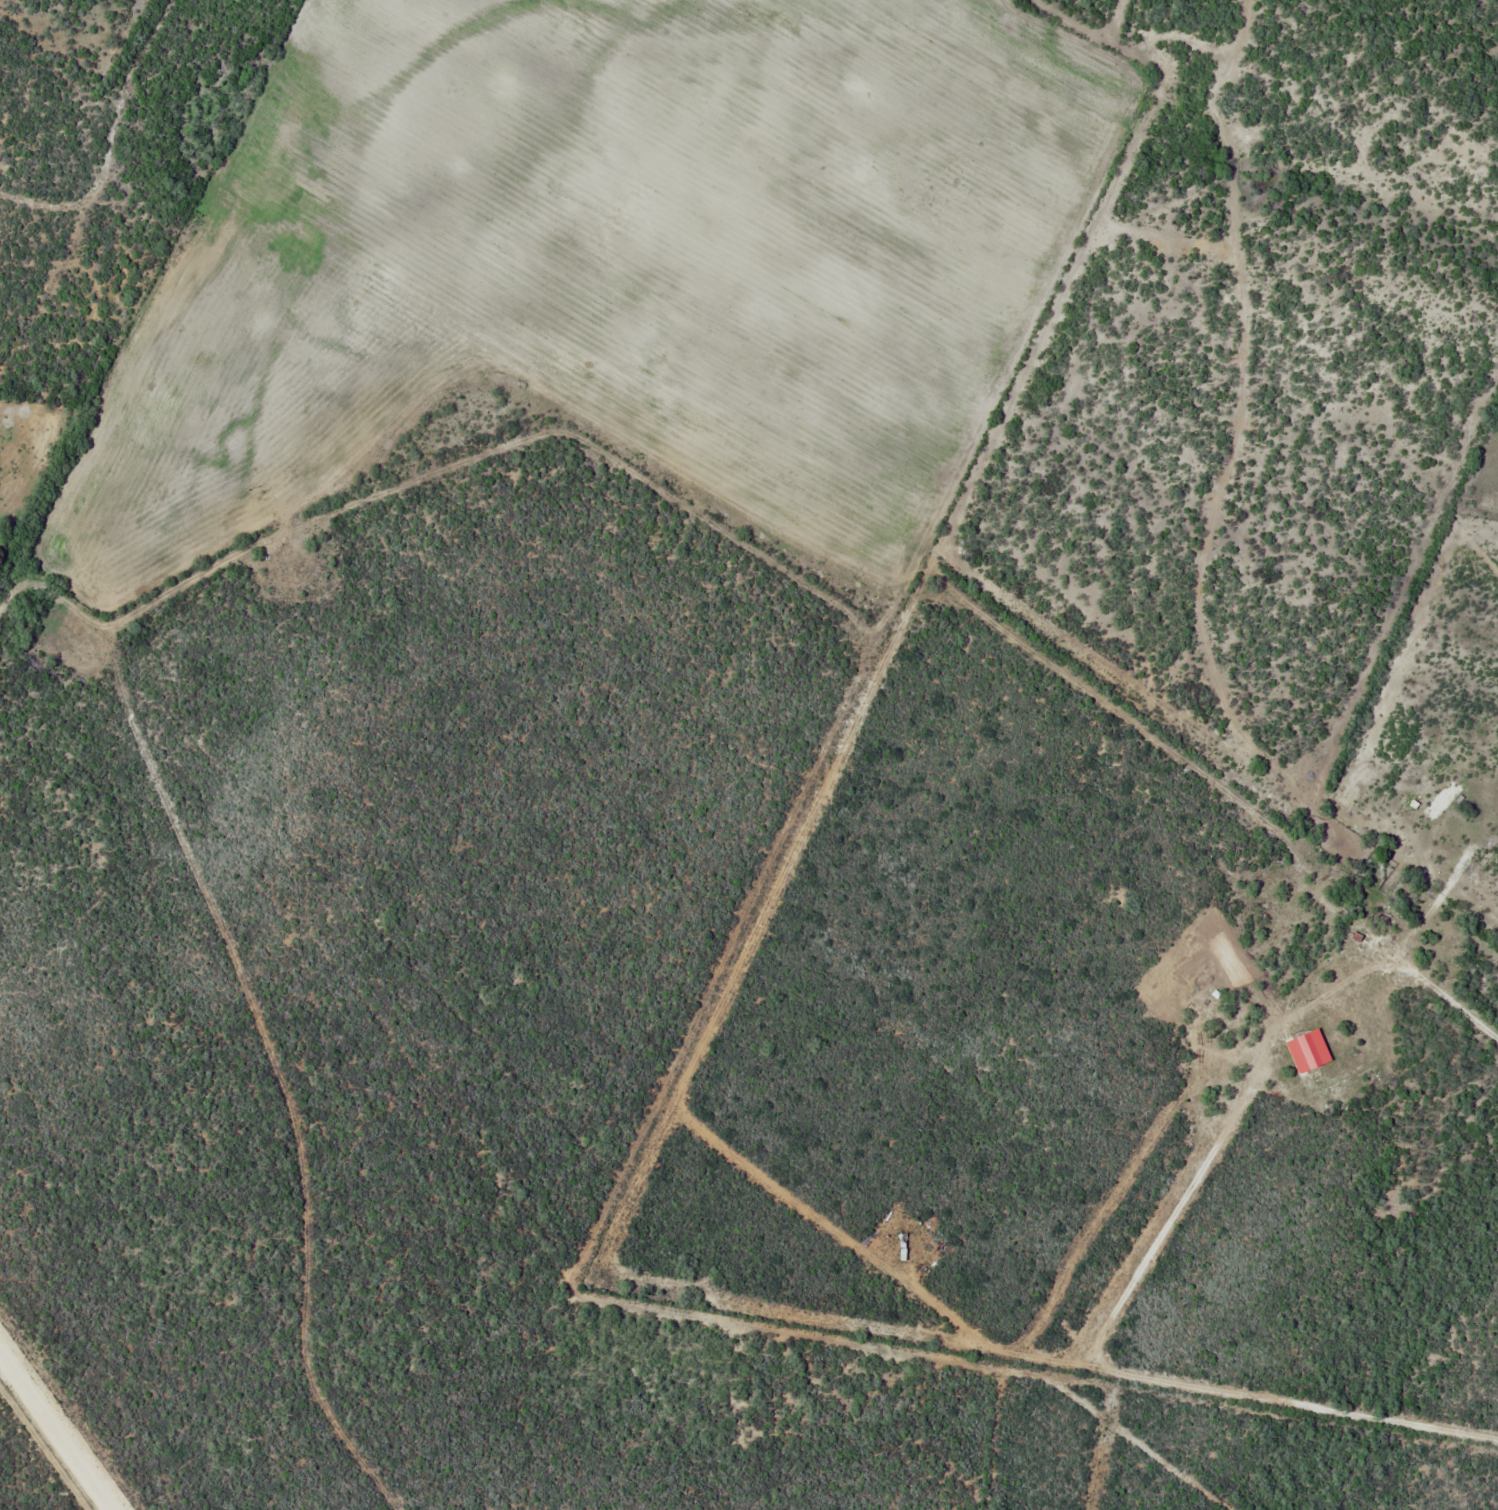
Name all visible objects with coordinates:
building: (1434, 801)
road: (54, 1433)

